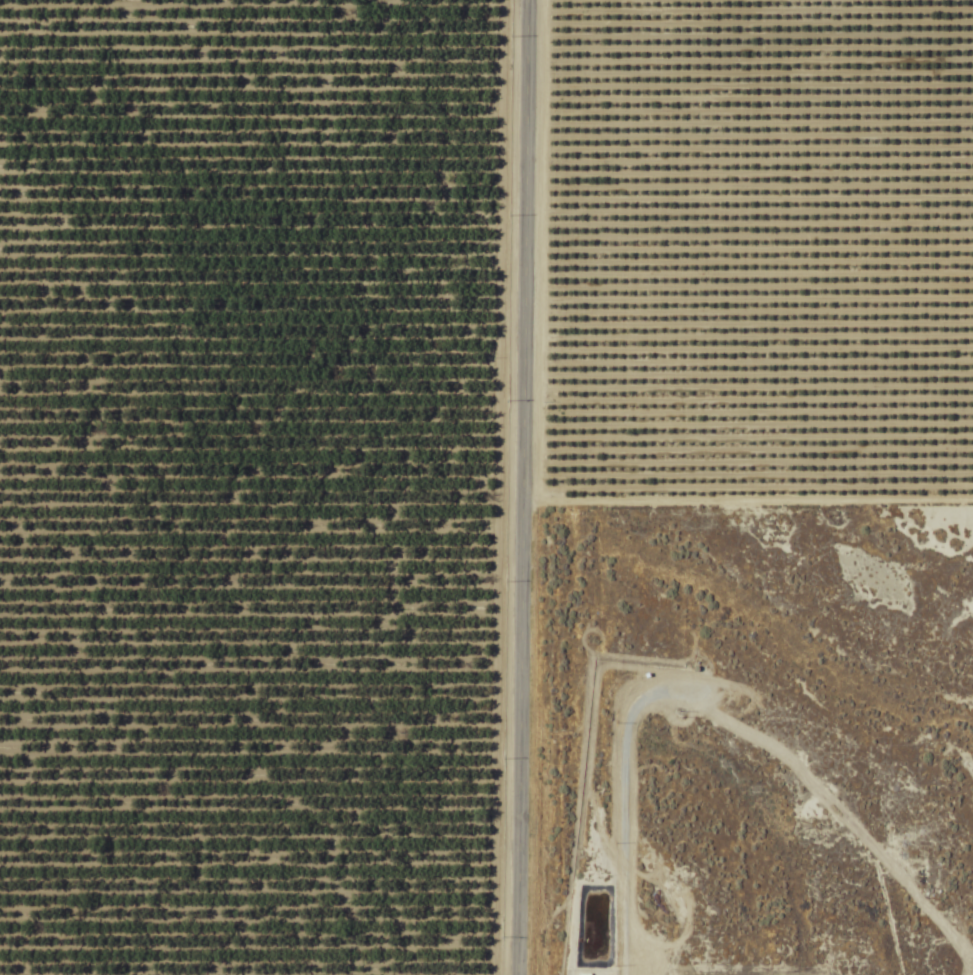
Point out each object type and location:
road: (524, 487)

